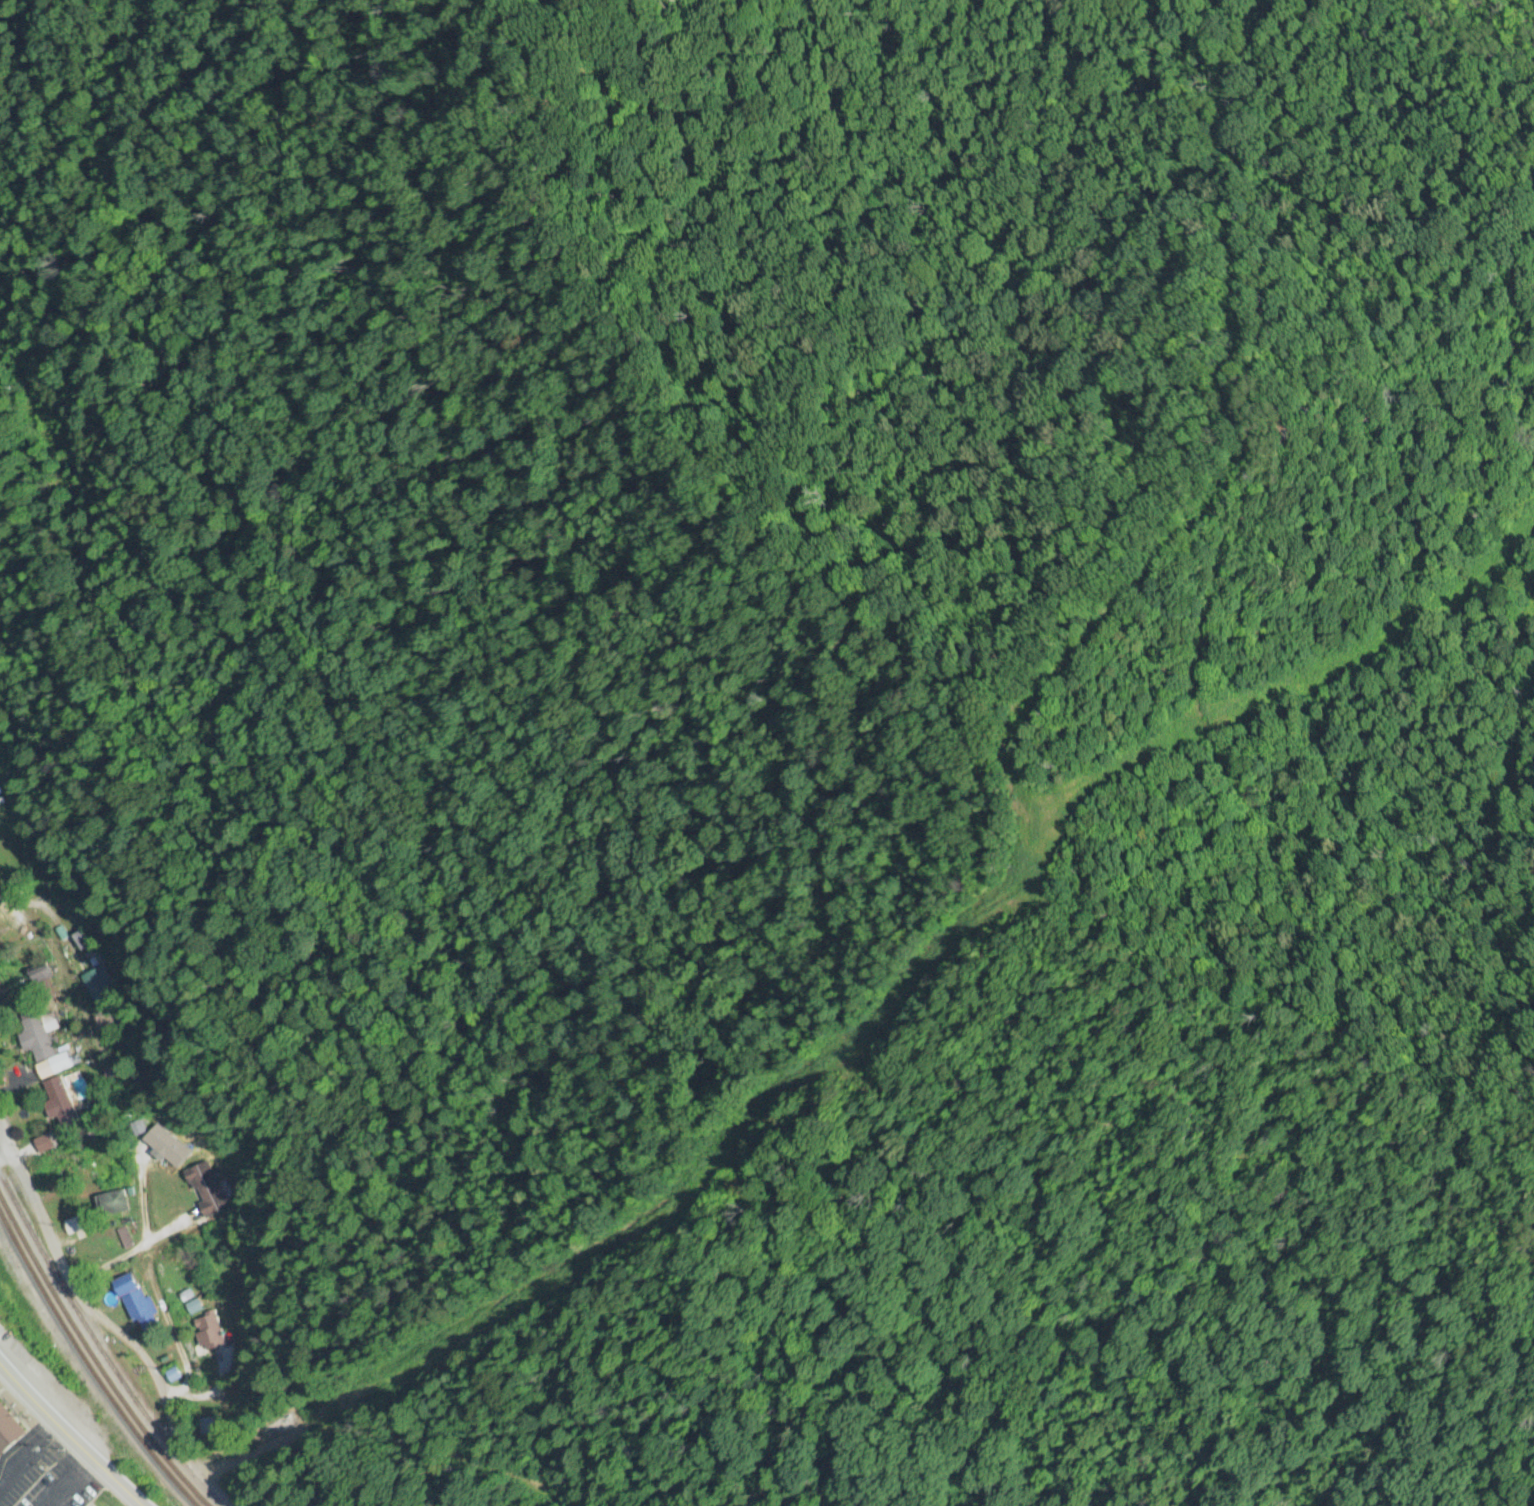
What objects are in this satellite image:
building: (0, 836)
building: (38, 974)
building: (98, 984)
building: (41, 1043)
building: (59, 1105)
road: (3, 1147)
building: (105, 1156)
building: (62, 1157)
building: (207, 1189)
road: (131, 1251)
building: (183, 1274)
road: (63, 1275)
building: (137, 1304)
building: (209, 1333)
railway: (94, 1364)
building: (207, 1427)
building: (9, 1430)
road: (67, 1439)

